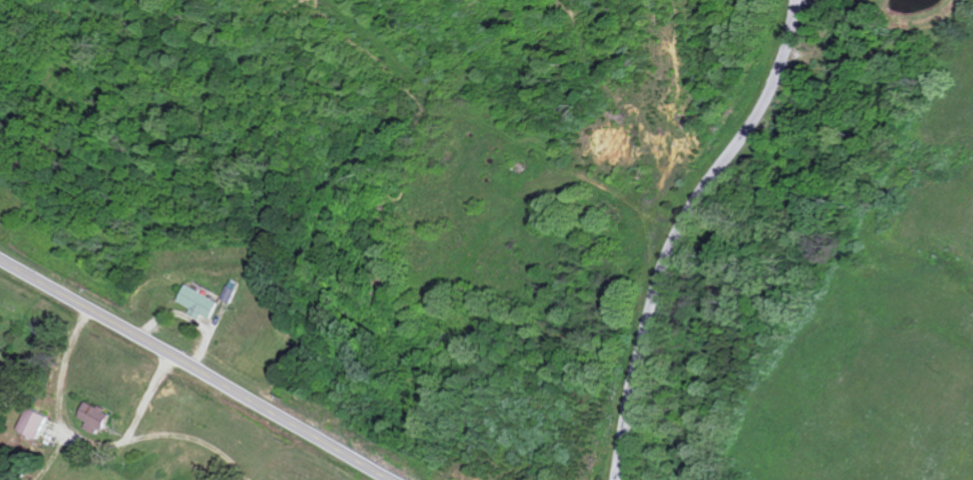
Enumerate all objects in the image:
road: (689, 234)
building: (200, 303)
building: (0, 349)
road: (195, 370)
building: (98, 415)
building: (35, 423)

